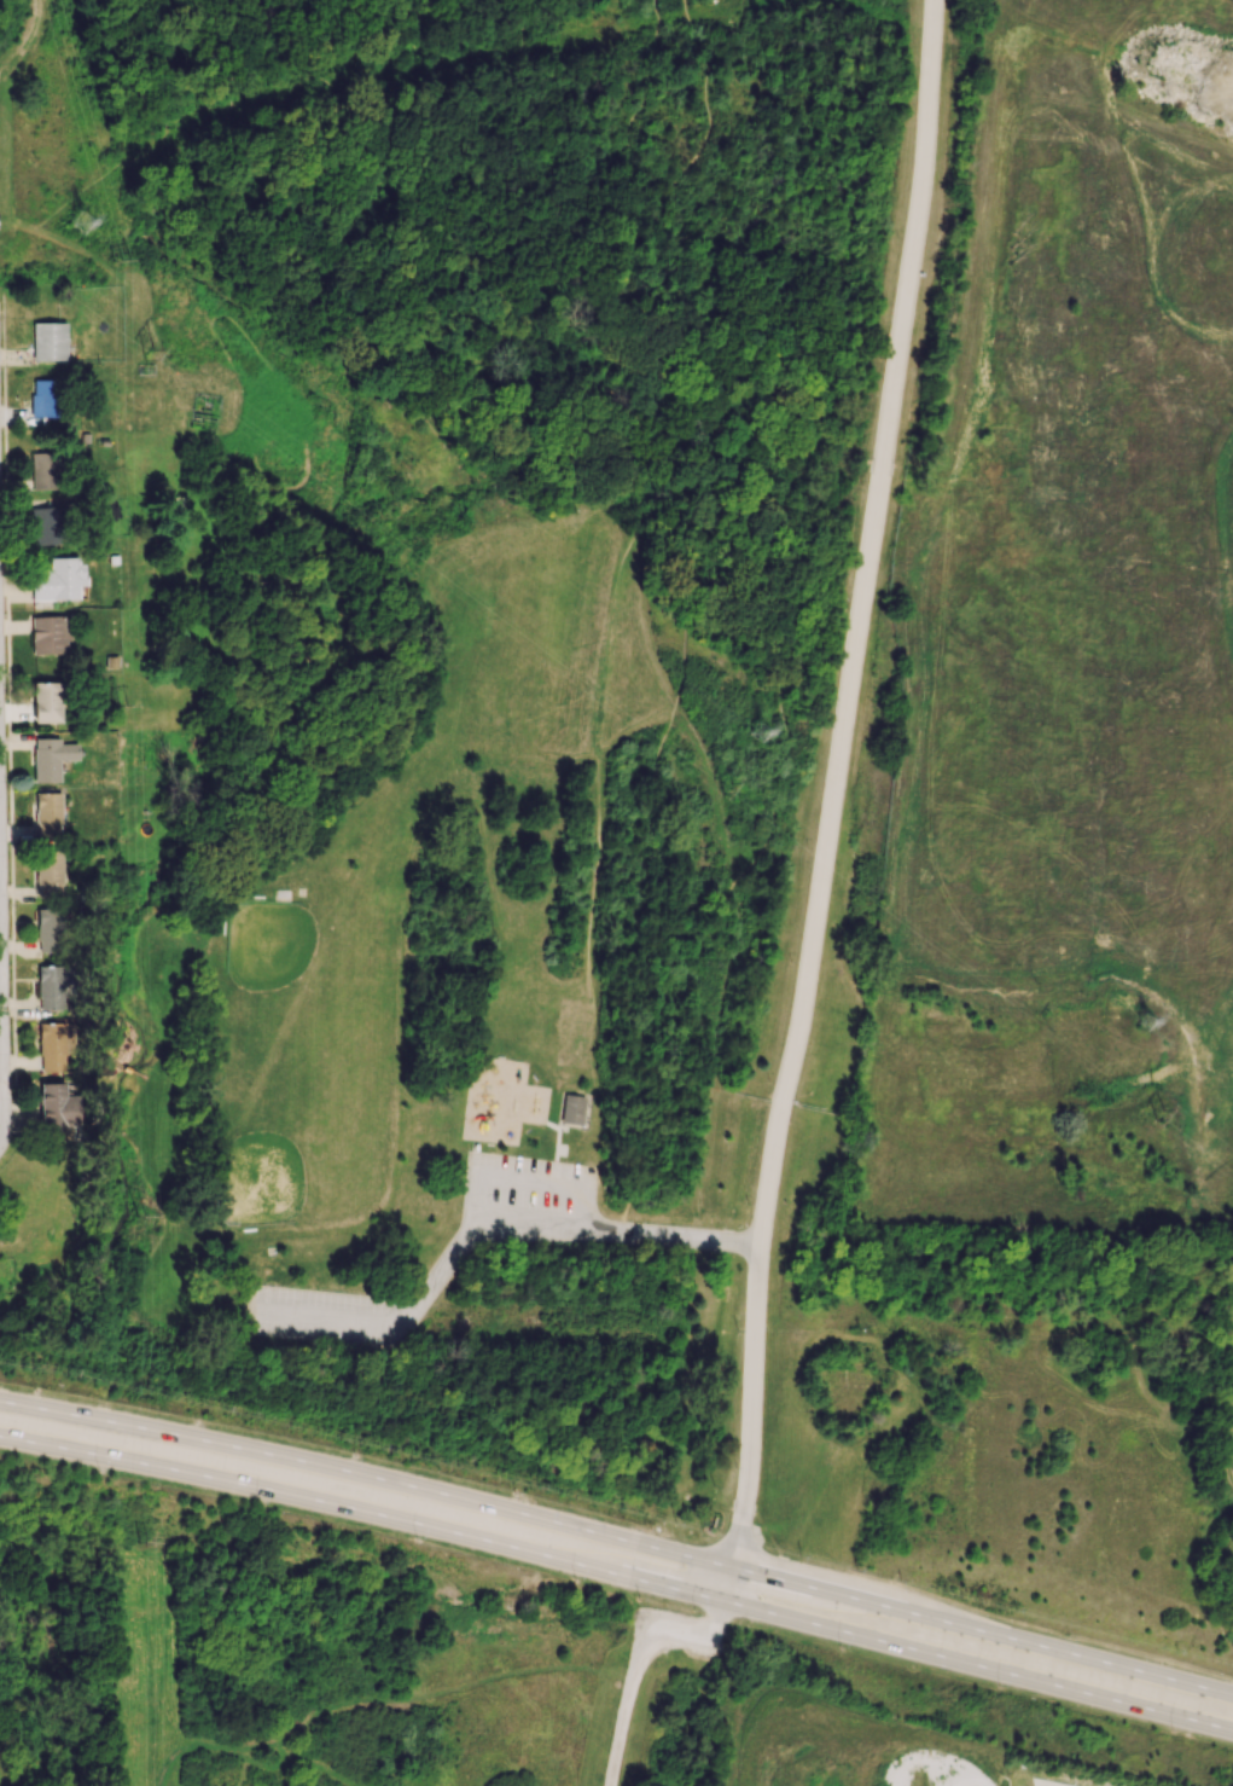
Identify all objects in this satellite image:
road: (470, 33)
road: (24, 40)
road: (228, 97)
road: (197, 109)
road: (169, 122)
road: (162, 137)
road: (112, 160)
road: (279, 182)
road: (677, 220)
power tower: (85, 222)
power tower: (129, 262)
building: (48, 341)
road: (615, 344)
power tower: (147, 353)
road: (591, 375)
building: (42, 398)
road: (673, 443)
road: (670, 445)
building: (43, 470)
road: (795, 489)
building: (178, 501)
road: (702, 501)
building: (45, 526)
road: (872, 552)
building: (57, 579)
building: (48, 633)
building: (46, 701)
power tower: (129, 702)
building: (136, 704)
road: (10, 712)
power tower: (763, 733)
building: (50, 758)
power tower: (739, 787)
building: (47, 813)
building: (47, 874)
road: (646, 887)
building: (50, 929)
park: (292, 964)
building: (50, 986)
power tower: (1134, 1019)
building: (50, 1046)
road: (0, 1057)
road: (128, 1069)
building: (54, 1109)
building: (576, 1111)
power tower: (1158, 1120)
road: (115, 1133)
road: (557, 1155)
park: (283, 1159)
road: (518, 1181)
parking lot: (527, 1194)
power tower: (147, 1212)
road: (484, 1229)
parking lot: (324, 1316)
road: (754, 1351)
road: (618, 1537)
power tower: (145, 1543)
road: (618, 1573)
road: (636, 1654)
crop: (834, 1747)

